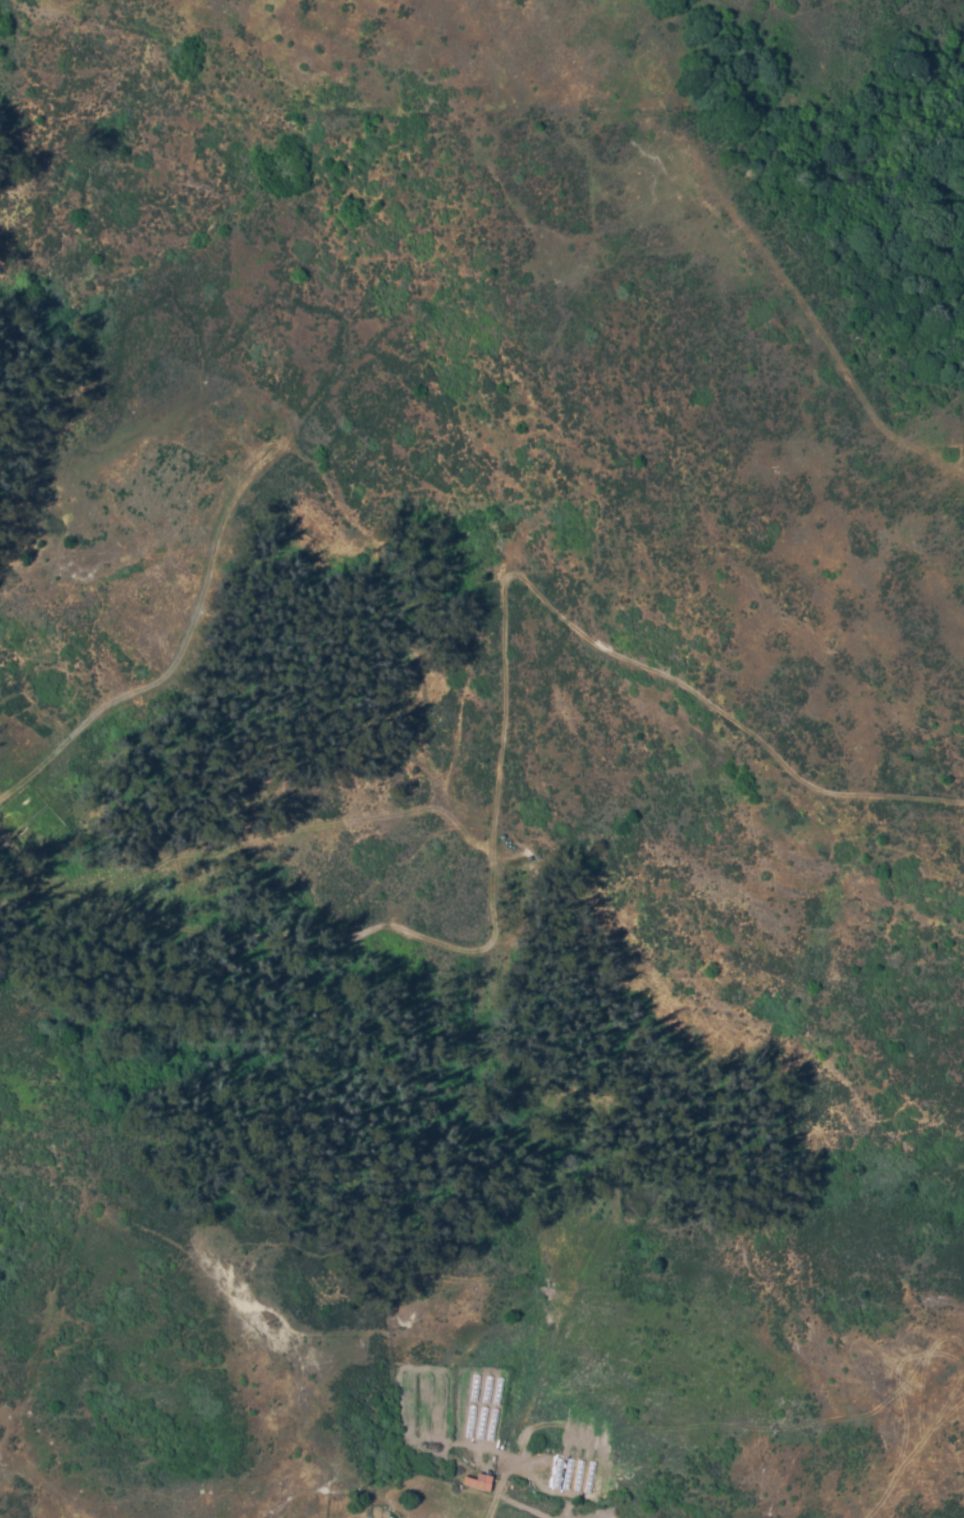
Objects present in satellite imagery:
building: (486, 1483)

